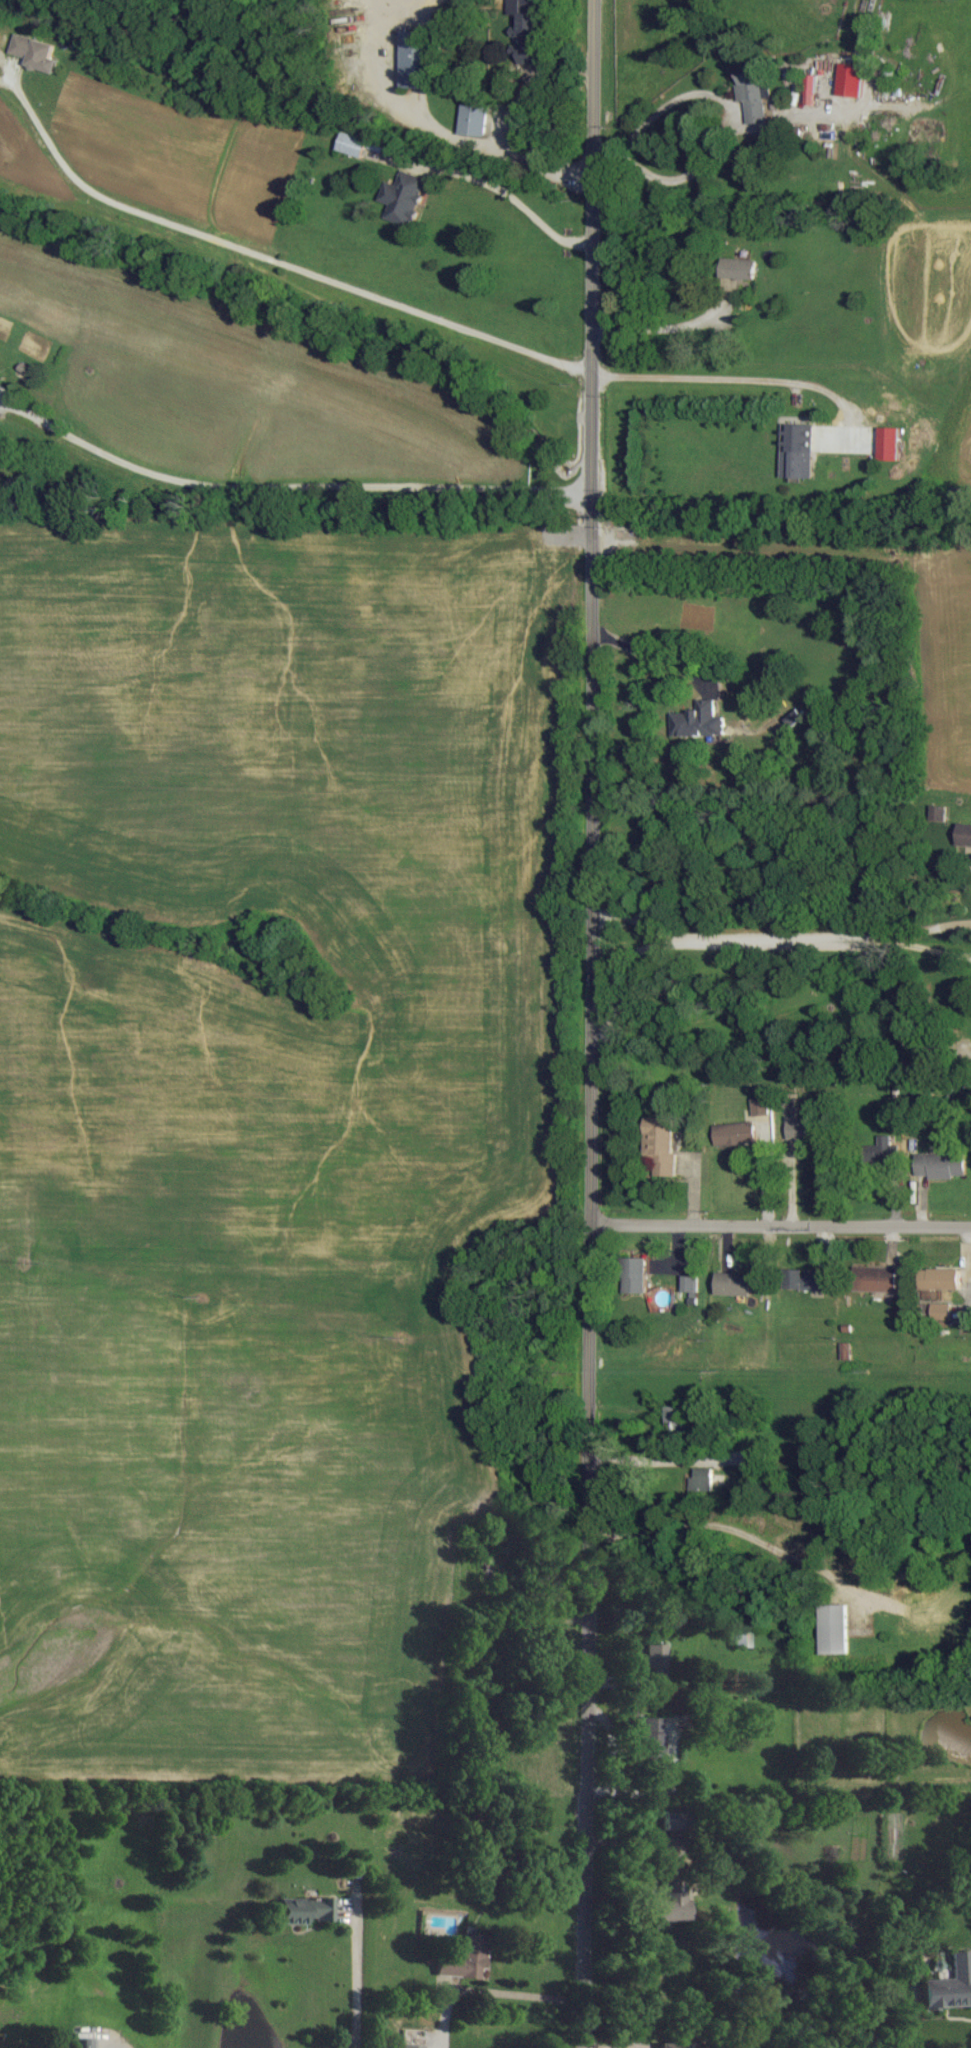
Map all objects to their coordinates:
building: (525, 38)
building: (35, 52)
building: (416, 58)
building: (851, 78)
road: (530, 80)
building: (811, 88)
road: (726, 110)
building: (474, 118)
road: (436, 129)
building: (355, 144)
building: (404, 197)
road: (511, 198)
road: (276, 261)
building: (738, 268)
road: (674, 325)
road: (737, 378)
building: (890, 443)
building: (798, 450)
road: (291, 486)
road: (655, 658)
building: (698, 721)
building: (939, 813)
building: (964, 834)
road: (783, 935)
road: (749, 946)
road: (902, 1016)
road: (599, 1024)
building: (761, 1107)
building: (803, 1129)
building: (736, 1133)
building: (660, 1143)
building: (883, 1152)
building: (941, 1165)
road: (783, 1232)
building: (635, 1275)
building: (876, 1279)
building: (940, 1279)
building: (806, 1280)
building: (734, 1284)
building: (690, 1285)
building: (942, 1311)
building: (848, 1354)
building: (699, 1478)
building: (834, 1628)
building: (655, 1666)
building: (652, 1738)
building: (669, 1819)
building: (668, 1896)
building: (303, 1910)
building: (464, 1959)
road: (354, 1976)
building: (947, 1985)
road: (492, 1999)
building: (84, 2042)
building: (412, 2045)
road: (104, 2047)
building: (677, 2047)

